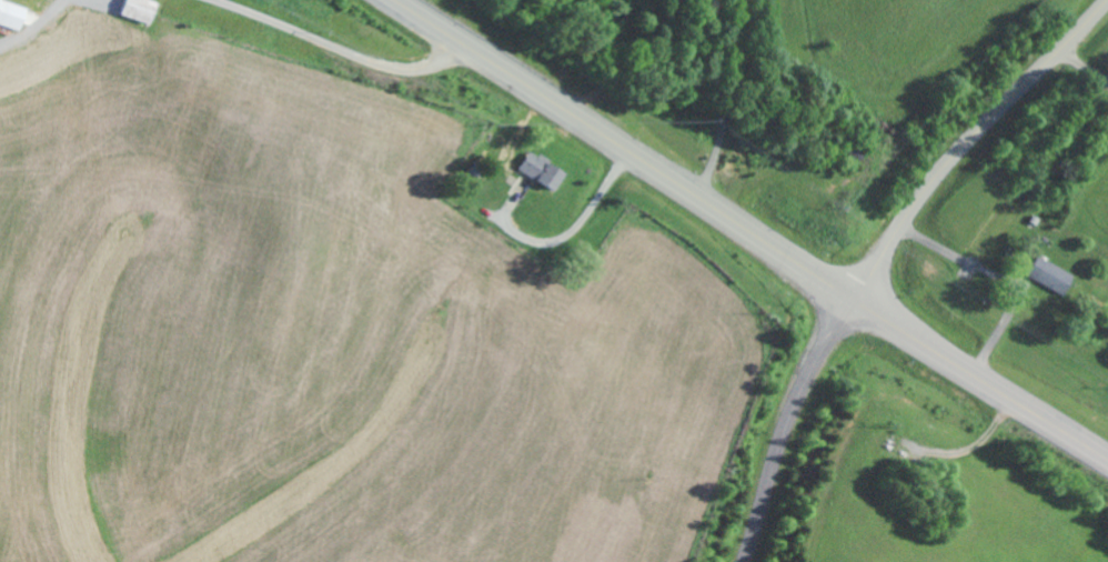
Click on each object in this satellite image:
building: (16, 13)
road: (971, 142)
building: (545, 170)
road: (752, 231)
building: (1054, 274)
road: (796, 426)

